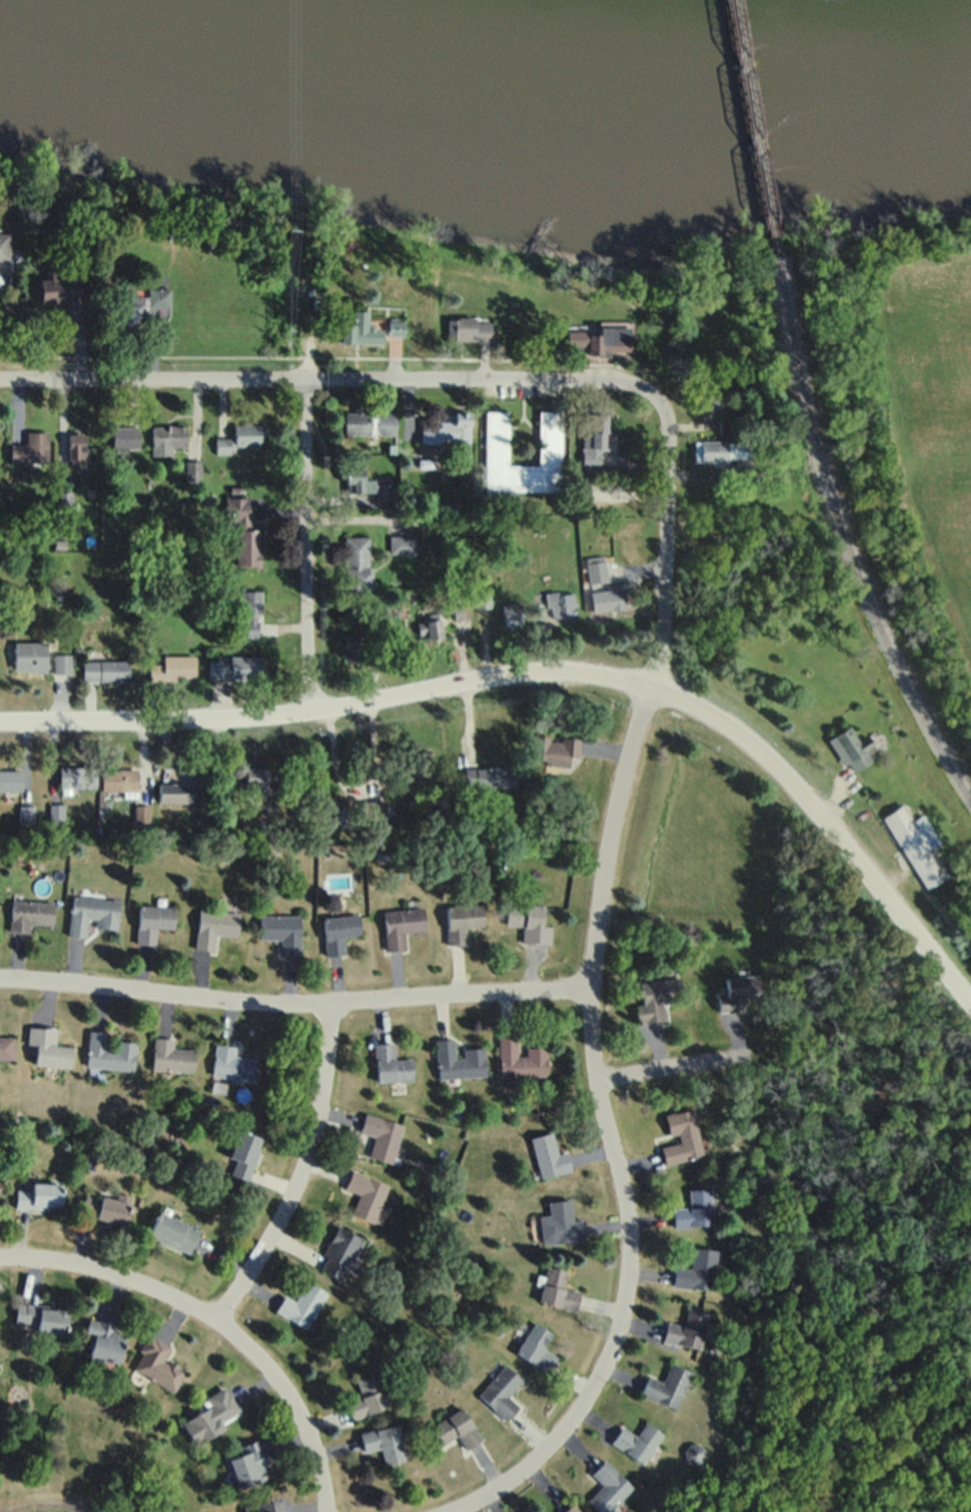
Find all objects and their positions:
river: (682, 30)
railway: (756, 129)
building: (177, 235)
building: (3, 250)
building: (407, 274)
building: (57, 290)
building: (158, 300)
building: (133, 318)
building: (395, 328)
building: (359, 332)
building: (469, 332)
building: (601, 343)
road: (348, 379)
park: (903, 401)
building: (709, 406)
building: (360, 423)
building: (386, 426)
building: (726, 428)
building: (444, 432)
road: (61, 435)
building: (168, 438)
building: (127, 439)
building: (240, 440)
building: (494, 440)
building: (592, 440)
building: (30, 450)
building: (392, 451)
building: (75, 452)
building: (720, 452)
building: (424, 465)
building: (192, 474)
building: (358, 486)
building: (385, 494)
building: (63, 501)
road: (783, 517)
building: (241, 533)
railway: (843, 538)
building: (59, 545)
building: (401, 545)
road: (305, 546)
road: (664, 559)
building: (355, 567)
building: (597, 571)
building: (480, 601)
building: (610, 601)
building: (559, 605)
building: (250, 615)
building: (459, 615)
building: (511, 617)
building: (373, 622)
building: (428, 634)
building: (355, 652)
building: (30, 657)
building: (62, 665)
building: (237, 668)
building: (175, 669)
building: (107, 671)
road: (327, 710)
building: (552, 748)
building: (849, 749)
building: (414, 774)
building: (489, 776)
building: (76, 780)
building: (119, 780)
building: (254, 780)
building: (11, 781)
building: (175, 791)
building: (27, 814)
building: (56, 815)
road: (828, 823)
building: (916, 844)
building: (92, 913)
building: (29, 914)
building: (152, 921)
building: (462, 921)
building: (529, 921)
building: (401, 924)
building: (214, 925)
building: (281, 930)
building: (338, 931)
building: (740, 992)
building: (657, 995)
road: (294, 1000)
building: (48, 1046)
building: (6, 1047)
building: (109, 1051)
building: (171, 1055)
building: (520, 1058)
building: (458, 1060)
building: (232, 1063)
building: (390, 1063)
road: (665, 1065)
building: (381, 1135)
road: (608, 1135)
building: (681, 1136)
building: (242, 1151)
building: (549, 1155)
road: (307, 1169)
building: (365, 1194)
building: (39, 1195)
building: (104, 1207)
building: (694, 1208)
building: (564, 1221)
building: (173, 1231)
building: (341, 1252)
building: (696, 1269)
building: (557, 1288)
building: (301, 1303)
building: (41, 1316)
road: (217, 1318)
building: (686, 1328)
building: (104, 1340)
building: (536, 1346)
building: (156, 1362)
building: (667, 1385)
building: (501, 1391)
building: (366, 1396)
building: (209, 1414)
building: (456, 1428)
building: (637, 1440)
building: (383, 1442)
building: (247, 1463)
building: (607, 1486)
building: (257, 1507)
building: (571, 1508)

